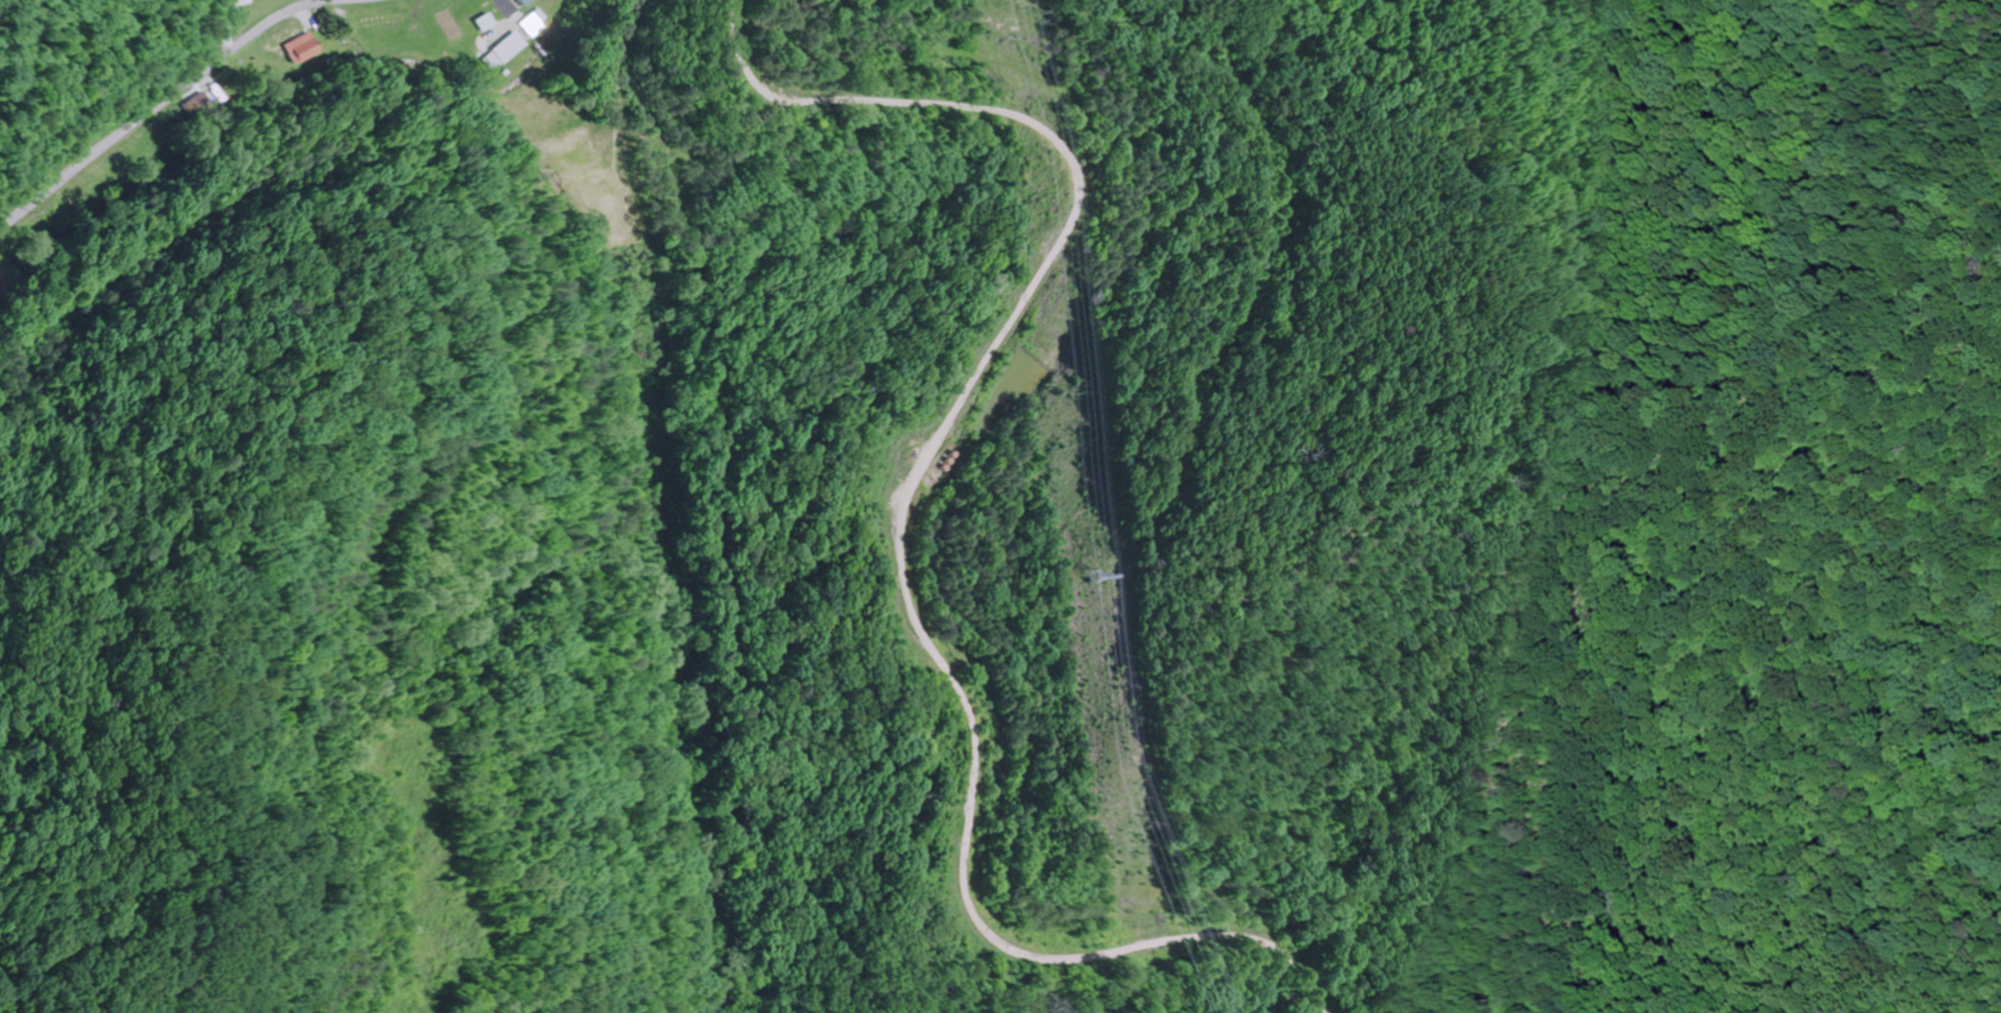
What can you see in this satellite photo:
building: (521, 2)
building: (383, 21)
building: (484, 23)
building: (533, 23)
building: (508, 47)
building: (301, 49)
road: (159, 102)
building: (108, 188)

